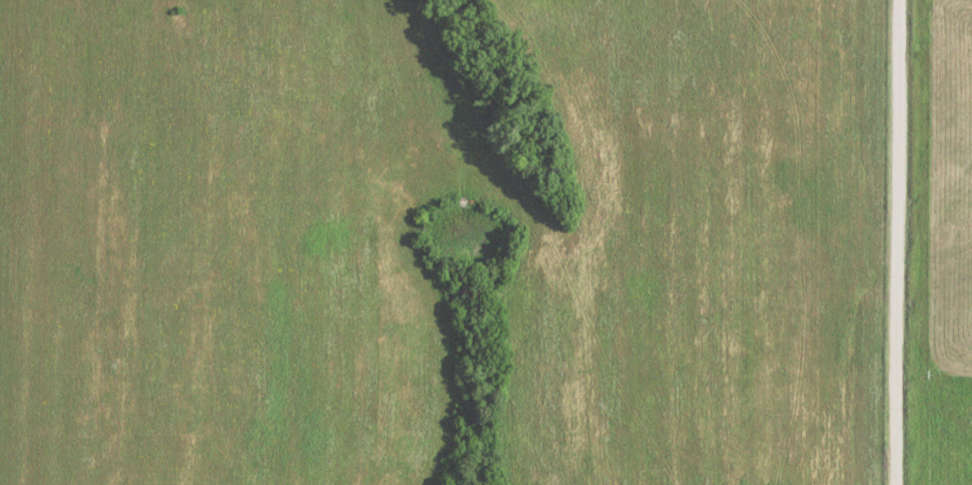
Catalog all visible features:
road: (895, 242)

